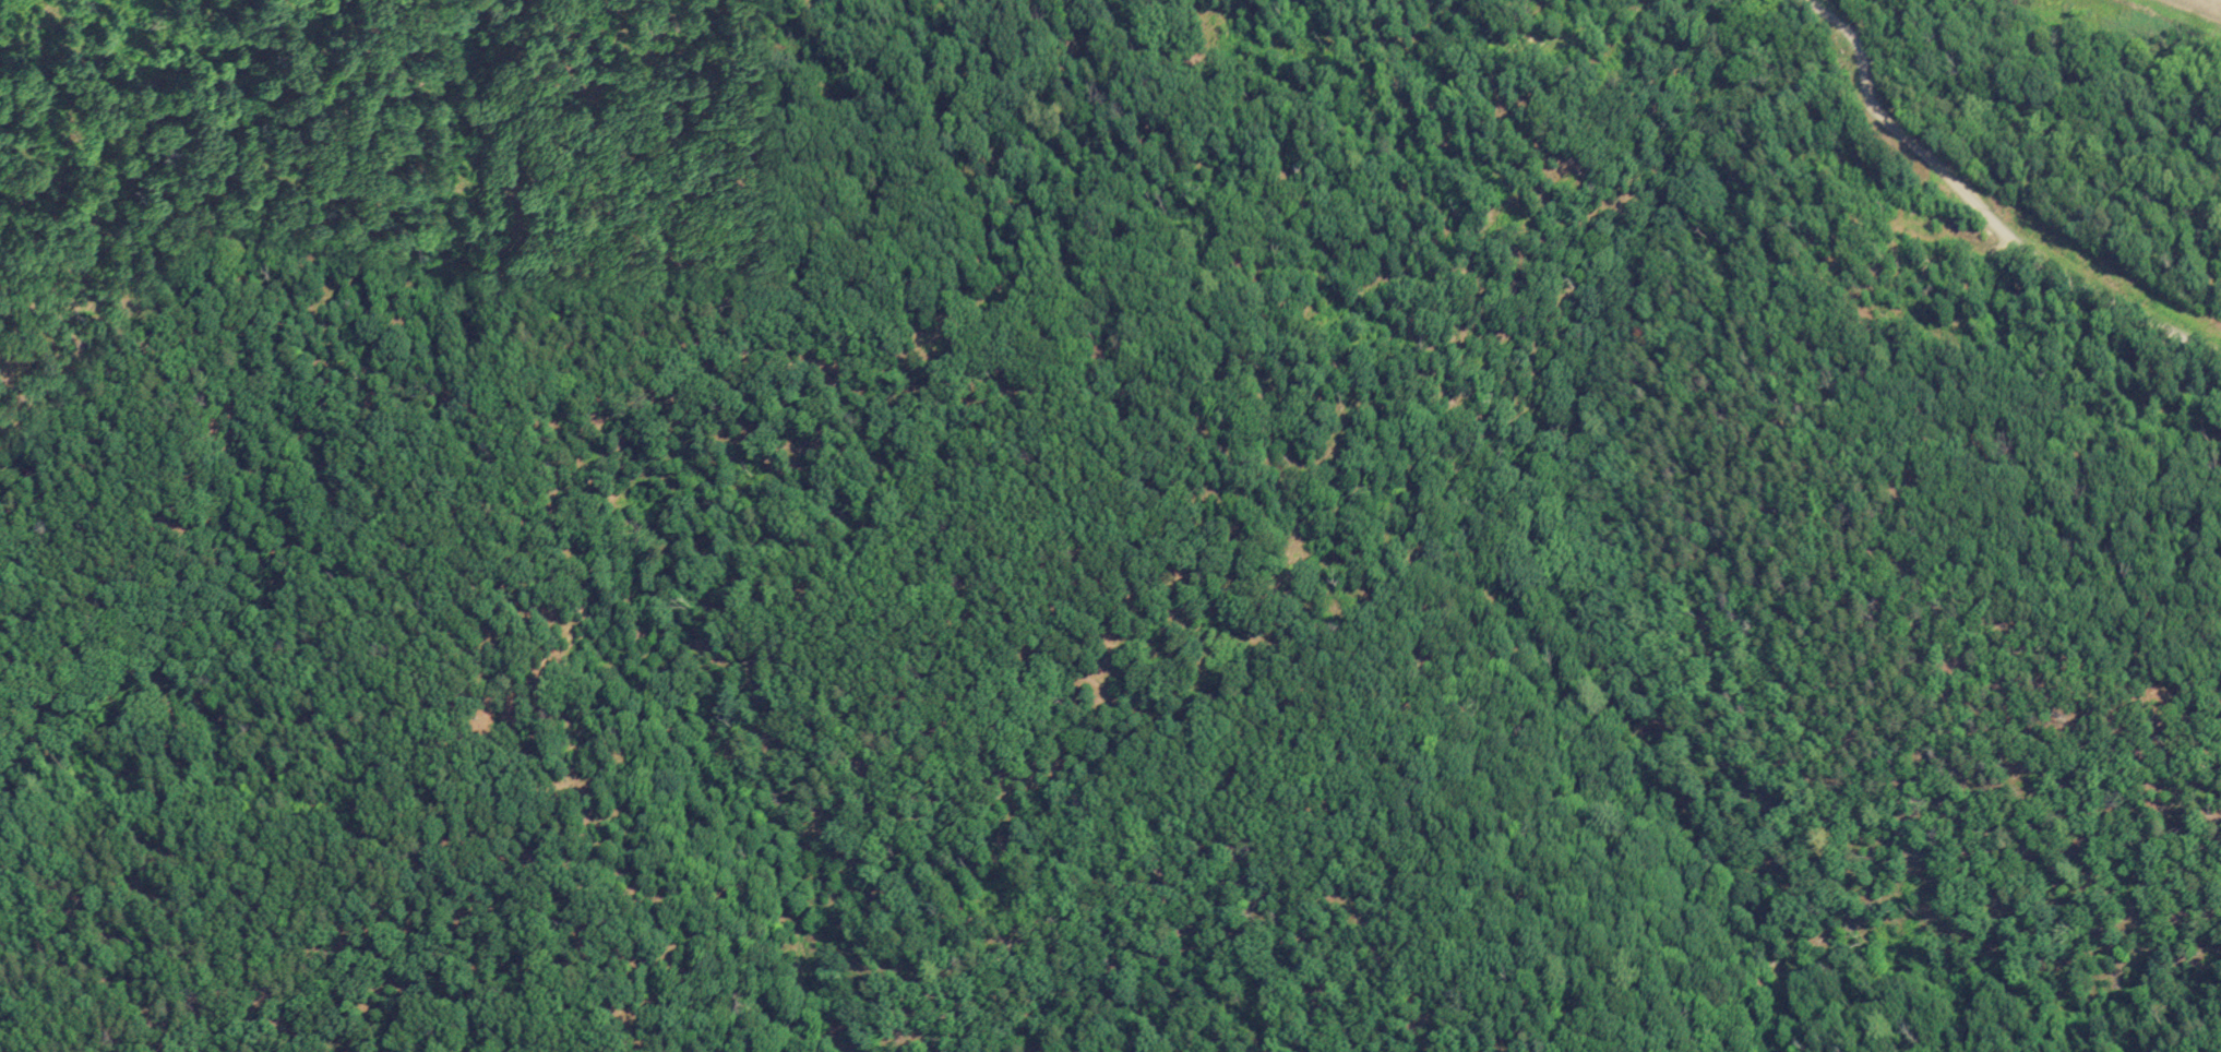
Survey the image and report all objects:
road: (1982, 212)

